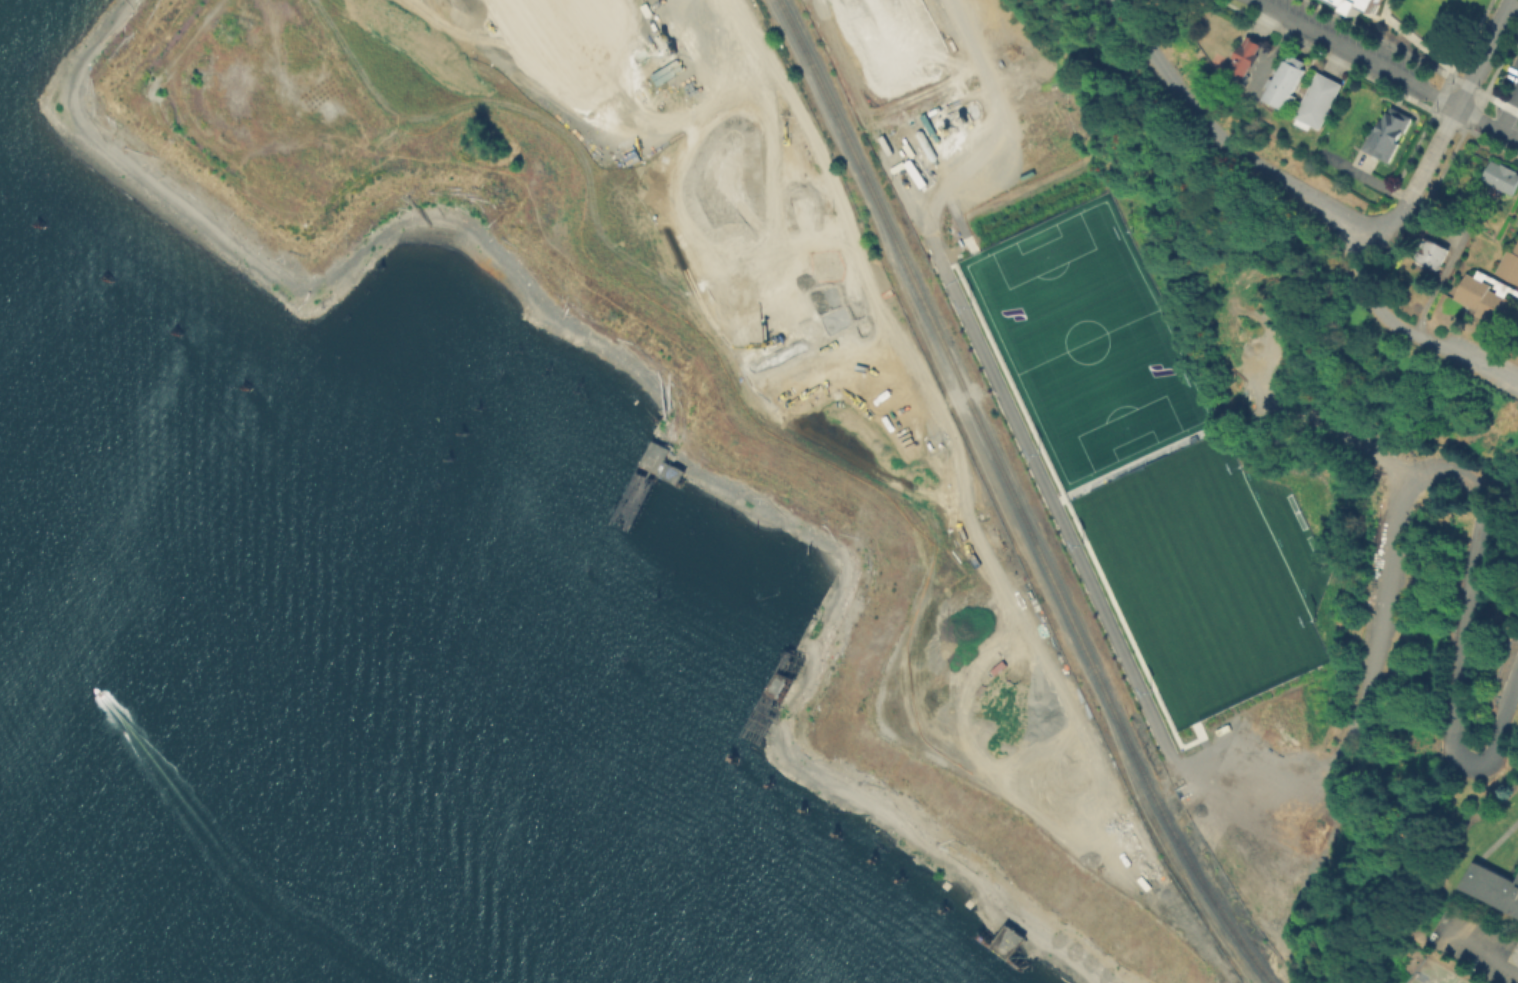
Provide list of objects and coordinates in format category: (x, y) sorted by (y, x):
building: (1354, 5)
road: (1385, 7)
road: (1370, 13)
road: (1420, 44)
building: (1245, 55)
road: (1386, 69)
road: (1449, 76)
building: (1285, 80)
road: (1461, 98)
building: (1316, 99)
road: (1509, 113)
building: (1385, 132)
road: (1228, 138)
building: (1502, 178)
road: (1389, 187)
road: (1396, 214)
building: (1433, 256)
road: (1371, 259)
building: (1510, 263)
road: (871, 283)
building: (1484, 300)
building: (1516, 329)
road: (1437, 344)
park: (1084, 353)
road: (994, 380)
road: (1410, 485)
railway: (1014, 497)
road: (997, 499)
park: (1193, 590)
road: (1500, 725)
road: (1251, 737)
road: (1454, 752)
parking lot: (1260, 797)
road: (1256, 799)
road: (1497, 840)
road: (1243, 868)
building: (1493, 886)
river: (85, 902)
road: (1480, 948)
park: (1437, 974)
building: (1444, 978)

